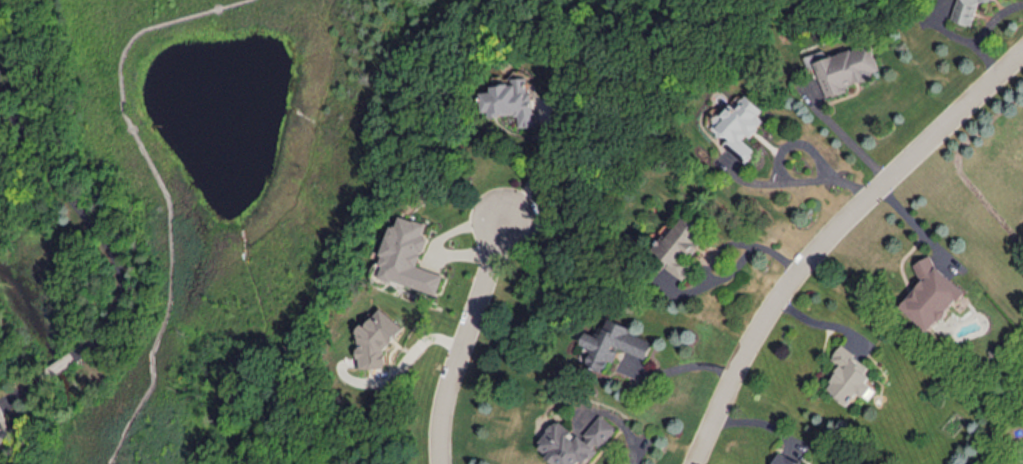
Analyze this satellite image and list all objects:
building: (971, 10)
road: (986, 31)
building: (850, 67)
building: (517, 100)
building: (747, 125)
road: (849, 134)
road: (799, 139)
road: (543, 168)
road: (798, 176)
road: (915, 226)
road: (830, 234)
building: (684, 244)
building: (413, 255)
road: (117, 261)
building: (929, 294)
building: (379, 338)
road: (481, 342)
building: (619, 343)
road: (689, 367)
building: (848, 375)
building: (577, 441)
building: (785, 459)

